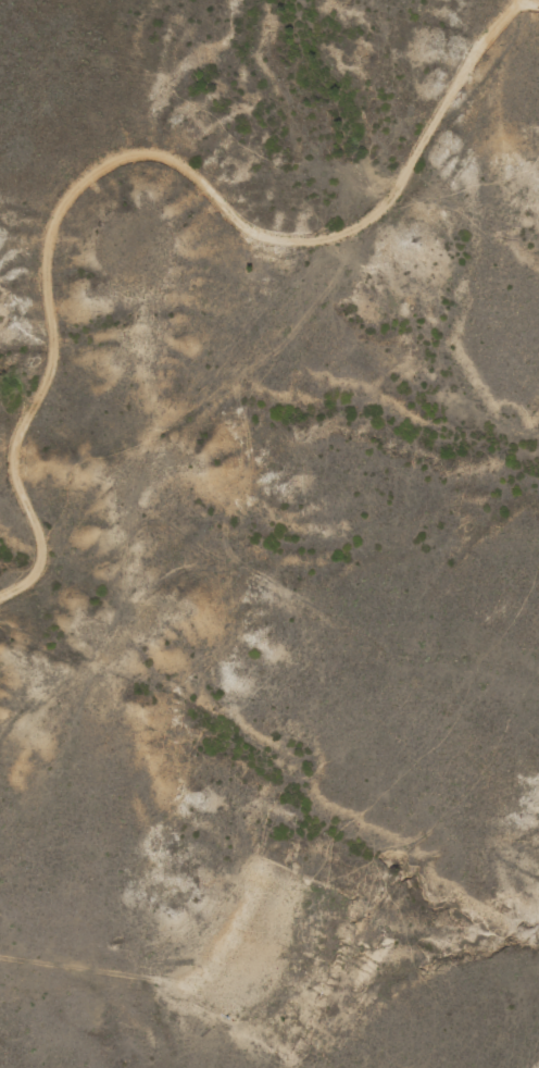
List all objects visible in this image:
road: (186, 159)

